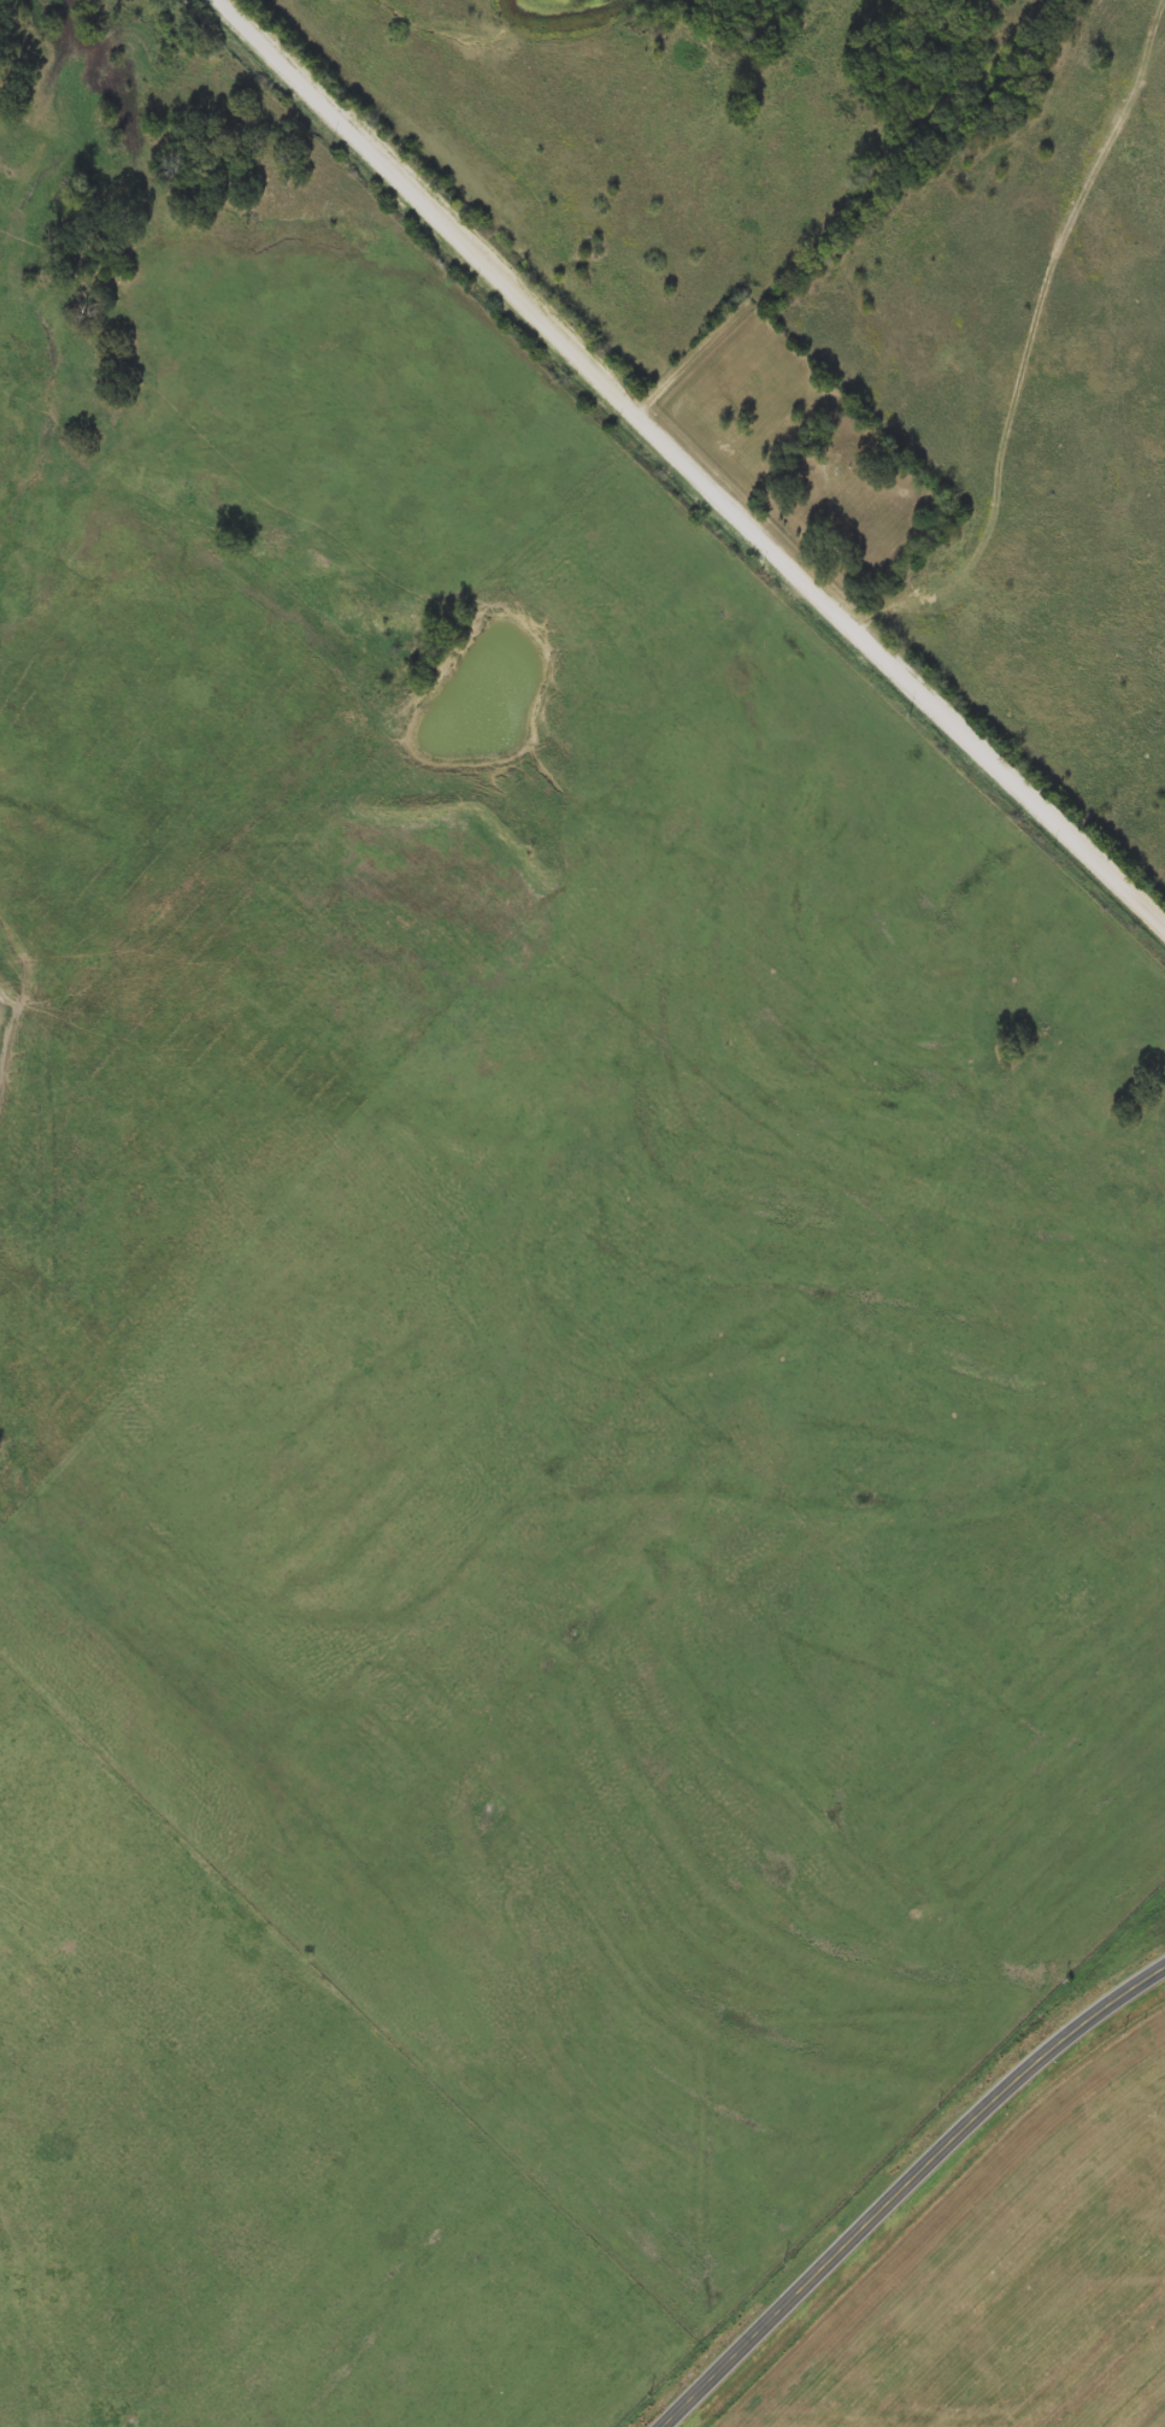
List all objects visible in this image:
road: (678, 371)
park: (798, 457)
road: (689, 466)
road: (904, 2185)

